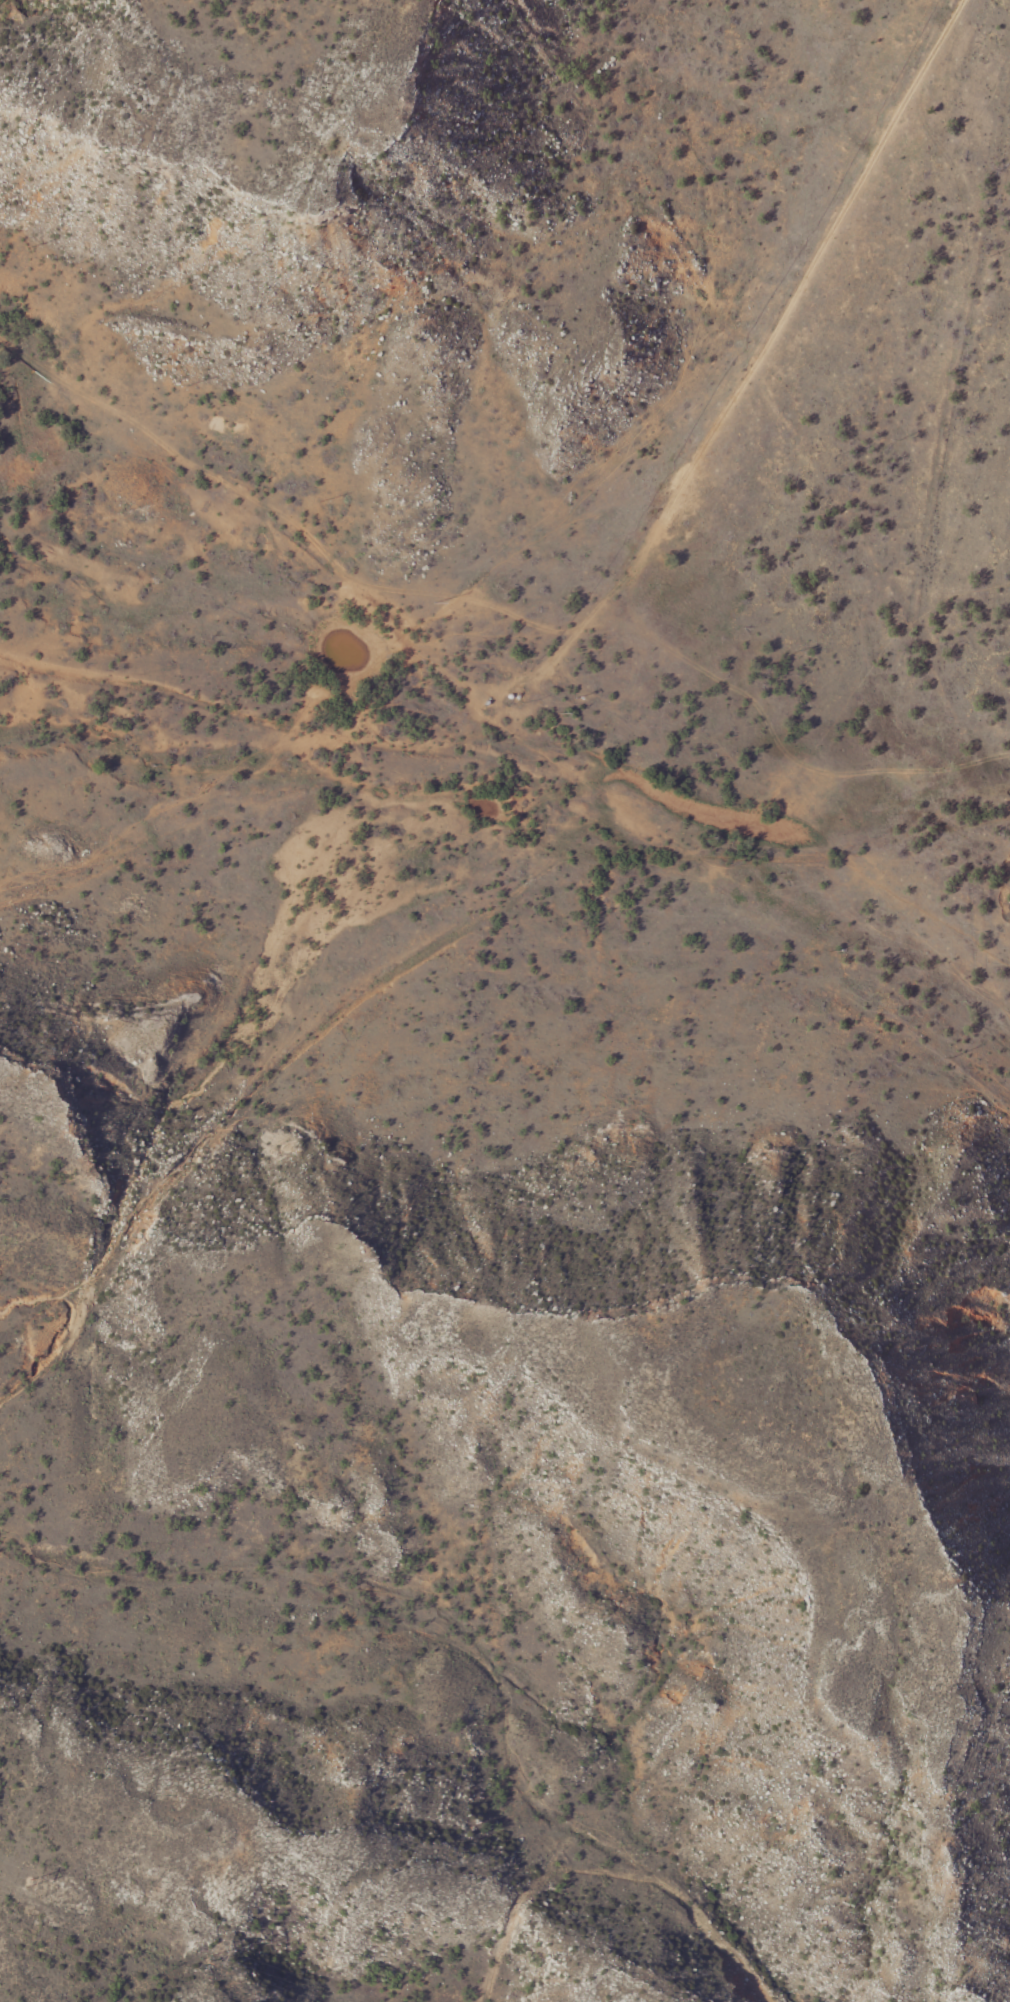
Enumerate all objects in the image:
power tower: (26, 1884)
power tower: (212, 1961)

